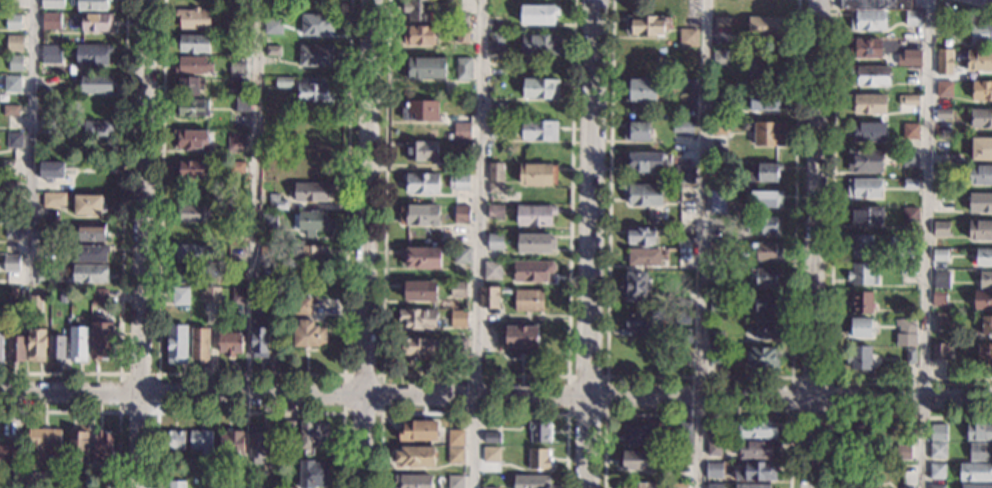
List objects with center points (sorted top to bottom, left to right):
building: (53, 4)
building: (875, 4)
road: (971, 4)
building: (93, 5)
building: (419, 10)
building: (539, 14)
building: (193, 18)
building: (914, 18)
building: (460, 19)
building: (868, 20)
building: (13, 21)
building: (52, 21)
building: (98, 22)
building: (498, 22)
building: (721, 22)
building: (316, 24)
building: (645, 25)
building: (274, 26)
building: (766, 26)
building: (981, 33)
building: (419, 35)
building: (462, 35)
building: (688, 37)
building: (497, 41)
building: (16, 43)
building: (195, 43)
building: (540, 44)
building: (866, 47)
building: (913, 47)
building: (276, 50)
building: (52, 54)
building: (93, 54)
building: (316, 54)
building: (644, 56)
building: (720, 57)
building: (909, 57)
building: (979, 60)
building: (944, 61)
building: (16, 63)
building: (193, 66)
building: (425, 67)
building: (238, 68)
building: (464, 68)
building: (765, 68)
building: (686, 70)
building: (495, 72)
building: (871, 75)
building: (912, 75)
building: (283, 82)
building: (13, 84)
building: (97, 84)
building: (187, 86)
building: (693, 86)
building: (238, 87)
building: (541, 88)
building: (642, 88)
building: (944, 90)
building: (982, 90)
building: (315, 92)
building: (719, 99)
building: (766, 100)
building: (909, 100)
building: (242, 104)
building: (868, 104)
building: (191, 108)
building: (11, 110)
building: (421, 110)
building: (497, 111)
building: (944, 114)
building: (981, 118)
building: (79, 122)
building: (49, 124)
building: (683, 128)
building: (719, 128)
building: (98, 129)
building: (497, 129)
building: (540, 130)
building: (462, 131)
building: (637, 131)
building: (869, 131)
building: (910, 131)
building: (769, 134)
building: (190, 139)
building: (15, 140)
building: (236, 142)
road: (256, 142)
road: (30, 144)
building: (944, 144)
building: (688, 147)
building: (982, 148)
building: (422, 150)
building: (671, 159)
building: (909, 159)
building: (314, 161)
building: (645, 161)
building: (865, 161)
building: (451, 166)
building: (236, 167)
building: (190, 168)
building: (719, 169)
building: (53, 171)
building: (496, 171)
building: (763, 171)
building: (537, 174)
building: (685, 174)
building: (283, 175)
building: (981, 175)
building: (421, 182)
building: (459, 182)
building: (911, 184)
building: (61, 187)
building: (864, 187)
building: (495, 188)
building: (936, 188)
building: (12, 189)
building: (312, 191)
building: (643, 194)
building: (763, 198)
road: (816, 198)
building: (53, 199)
building: (718, 201)
building: (277, 202)
building: (944, 202)
building: (980, 202)
building: (89, 205)
building: (496, 211)
building: (192, 213)
building: (420, 213)
building: (462, 214)
building: (910, 214)
building: (535, 215)
building: (866, 216)
building: (56, 217)
building: (269, 222)
building: (312, 222)
building: (762, 224)
building: (942, 229)
building: (980, 229)
building: (13, 230)
building: (93, 232)
building: (48, 235)
building: (641, 235)
building: (236, 237)
building: (496, 241)
building: (685, 241)
building: (536, 242)
road: (140, 243)
road: (475, 243)
road: (590, 243)
road: (702, 243)
road: (366, 244)
road: (925, 244)
building: (860, 245)
road: (121, 246)
building: (717, 246)
building: (767, 250)
building: (191, 252)
building: (908, 252)
building: (90, 253)
building: (268, 254)
building: (314, 254)
building: (462, 255)
building: (940, 255)
building: (421, 256)
building: (983, 256)
building: (645, 257)
building: (12, 263)
road: (831, 269)
building: (908, 269)
building: (493, 270)
building: (532, 271)
building: (44, 273)
building: (718, 273)
building: (91, 274)
building: (191, 274)
building: (234, 274)
building: (862, 274)
building: (766, 276)
building: (985, 279)
building: (268, 280)
building: (942, 280)
building: (636, 286)
building: (458, 289)
building: (421, 291)
building: (506, 291)
building: (211, 295)
building: (242, 295)
building: (100, 296)
building: (180, 296)
building: (272, 296)
building: (490, 297)
building: (63, 298)
building: (939, 298)
building: (983, 299)
building: (530, 300)
building: (862, 301)
building: (36, 303)
building: (765, 303)
building: (718, 304)
building: (302, 305)
building: (684, 305)
building: (176, 309)
building: (682, 317)
building: (459, 318)
building: (418, 319)
building: (944, 322)
building: (645, 323)
building: (986, 325)
building: (907, 326)
building: (859, 327)
building: (765, 329)
building: (309, 334)
building: (459, 334)
building: (101, 336)
building: (687, 336)
building: (716, 336)
building: (945, 336)
building: (260, 338)
building: (522, 338)
building: (906, 339)
building: (229, 342)
building: (78, 343)
building: (1, 344)
building: (36, 344)
building: (177, 344)
building: (200, 345)
building: (56, 347)
building: (417, 347)
building: (458, 347)
building: (17, 348)
building: (939, 351)
building: (985, 353)
building: (716, 355)
building: (910, 355)
building: (763, 357)
building: (860, 357)
road: (250, 374)
road: (473, 376)
road: (698, 377)
building: (990, 393)
road: (406, 398)
road: (903, 398)
road: (96, 412)
road: (118, 412)
road: (248, 412)
road: (343, 413)
road: (567, 413)
road: (473, 414)
road: (696, 415)
road: (791, 417)
road: (875, 418)
building: (288, 427)
building: (757, 429)
building: (419, 430)
building: (539, 431)
building: (714, 432)
building: (979, 432)
building: (682, 433)
building: (938, 433)
building: (314, 434)
building: (639, 435)
building: (492, 437)
building: (456, 438)
building: (859, 438)
road: (22, 440)
building: (174, 440)
building: (202, 441)
building: (232, 441)
road: (812, 442)
building: (258, 443)
building: (41, 444)
building: (79, 447)
building: (104, 447)
building: (714, 448)
building: (757, 448)
building: (938, 450)
building: (980, 451)
building: (5, 452)
building: (904, 452)
building: (491, 454)
building: (456, 455)
building: (416, 456)
building: (538, 458)
building: (637, 460)
building: (678, 470)
building: (714, 470)
building: (756, 471)
building: (937, 471)
building: (975, 472)
building: (313, 474)
building: (856, 477)
building: (208, 481)
building: (413, 481)
building: (456, 481)
building: (531, 481)
building: (56, 484)
building: (176, 484)
building: (242, 484)
building: (101, 485)
building: (636, 485)
building: (679, 485)
building: (715, 485)
building: (82, 486)
building: (752, 486)
building: (937, 486)
building: (975, 486)
building: (289, 487)
building: (490, 487)

